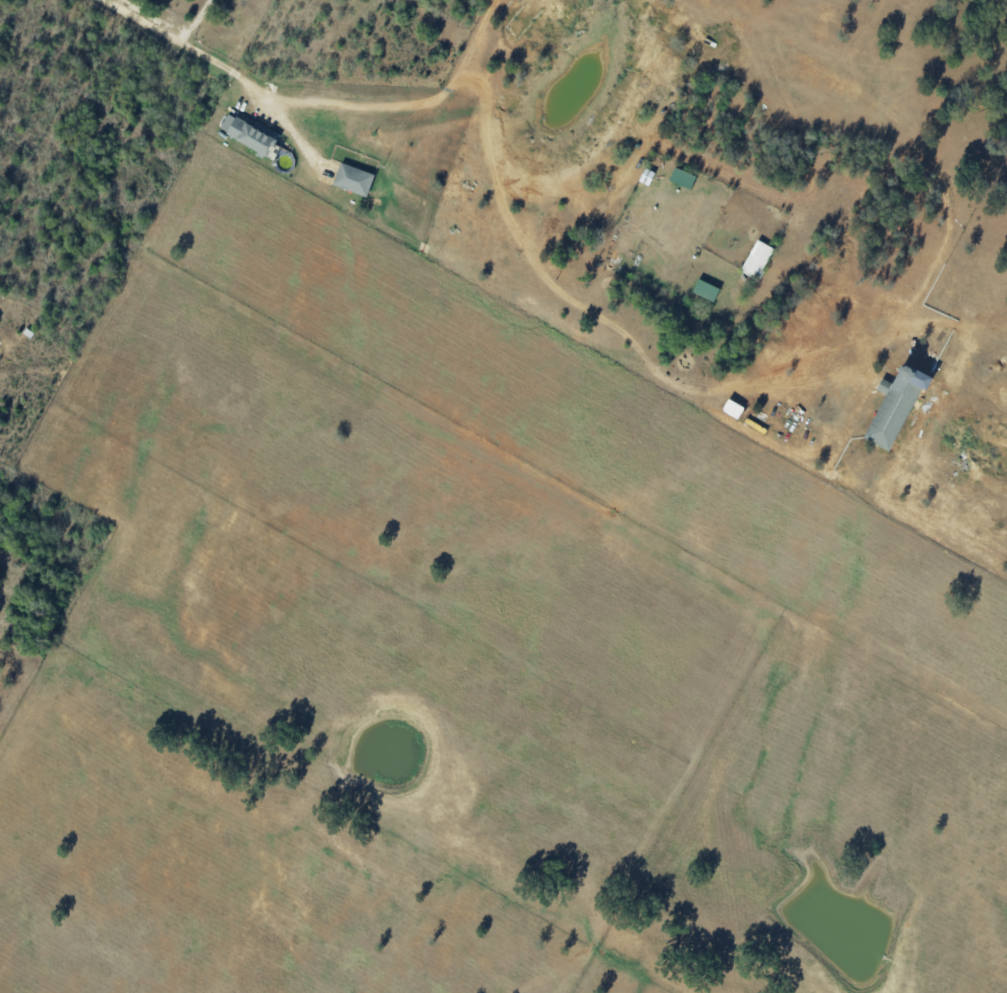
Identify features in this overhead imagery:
building: (247, 133)
road: (487, 153)
building: (682, 178)
building: (353, 179)
building: (758, 257)
building: (705, 290)
building: (893, 407)
building: (732, 409)

